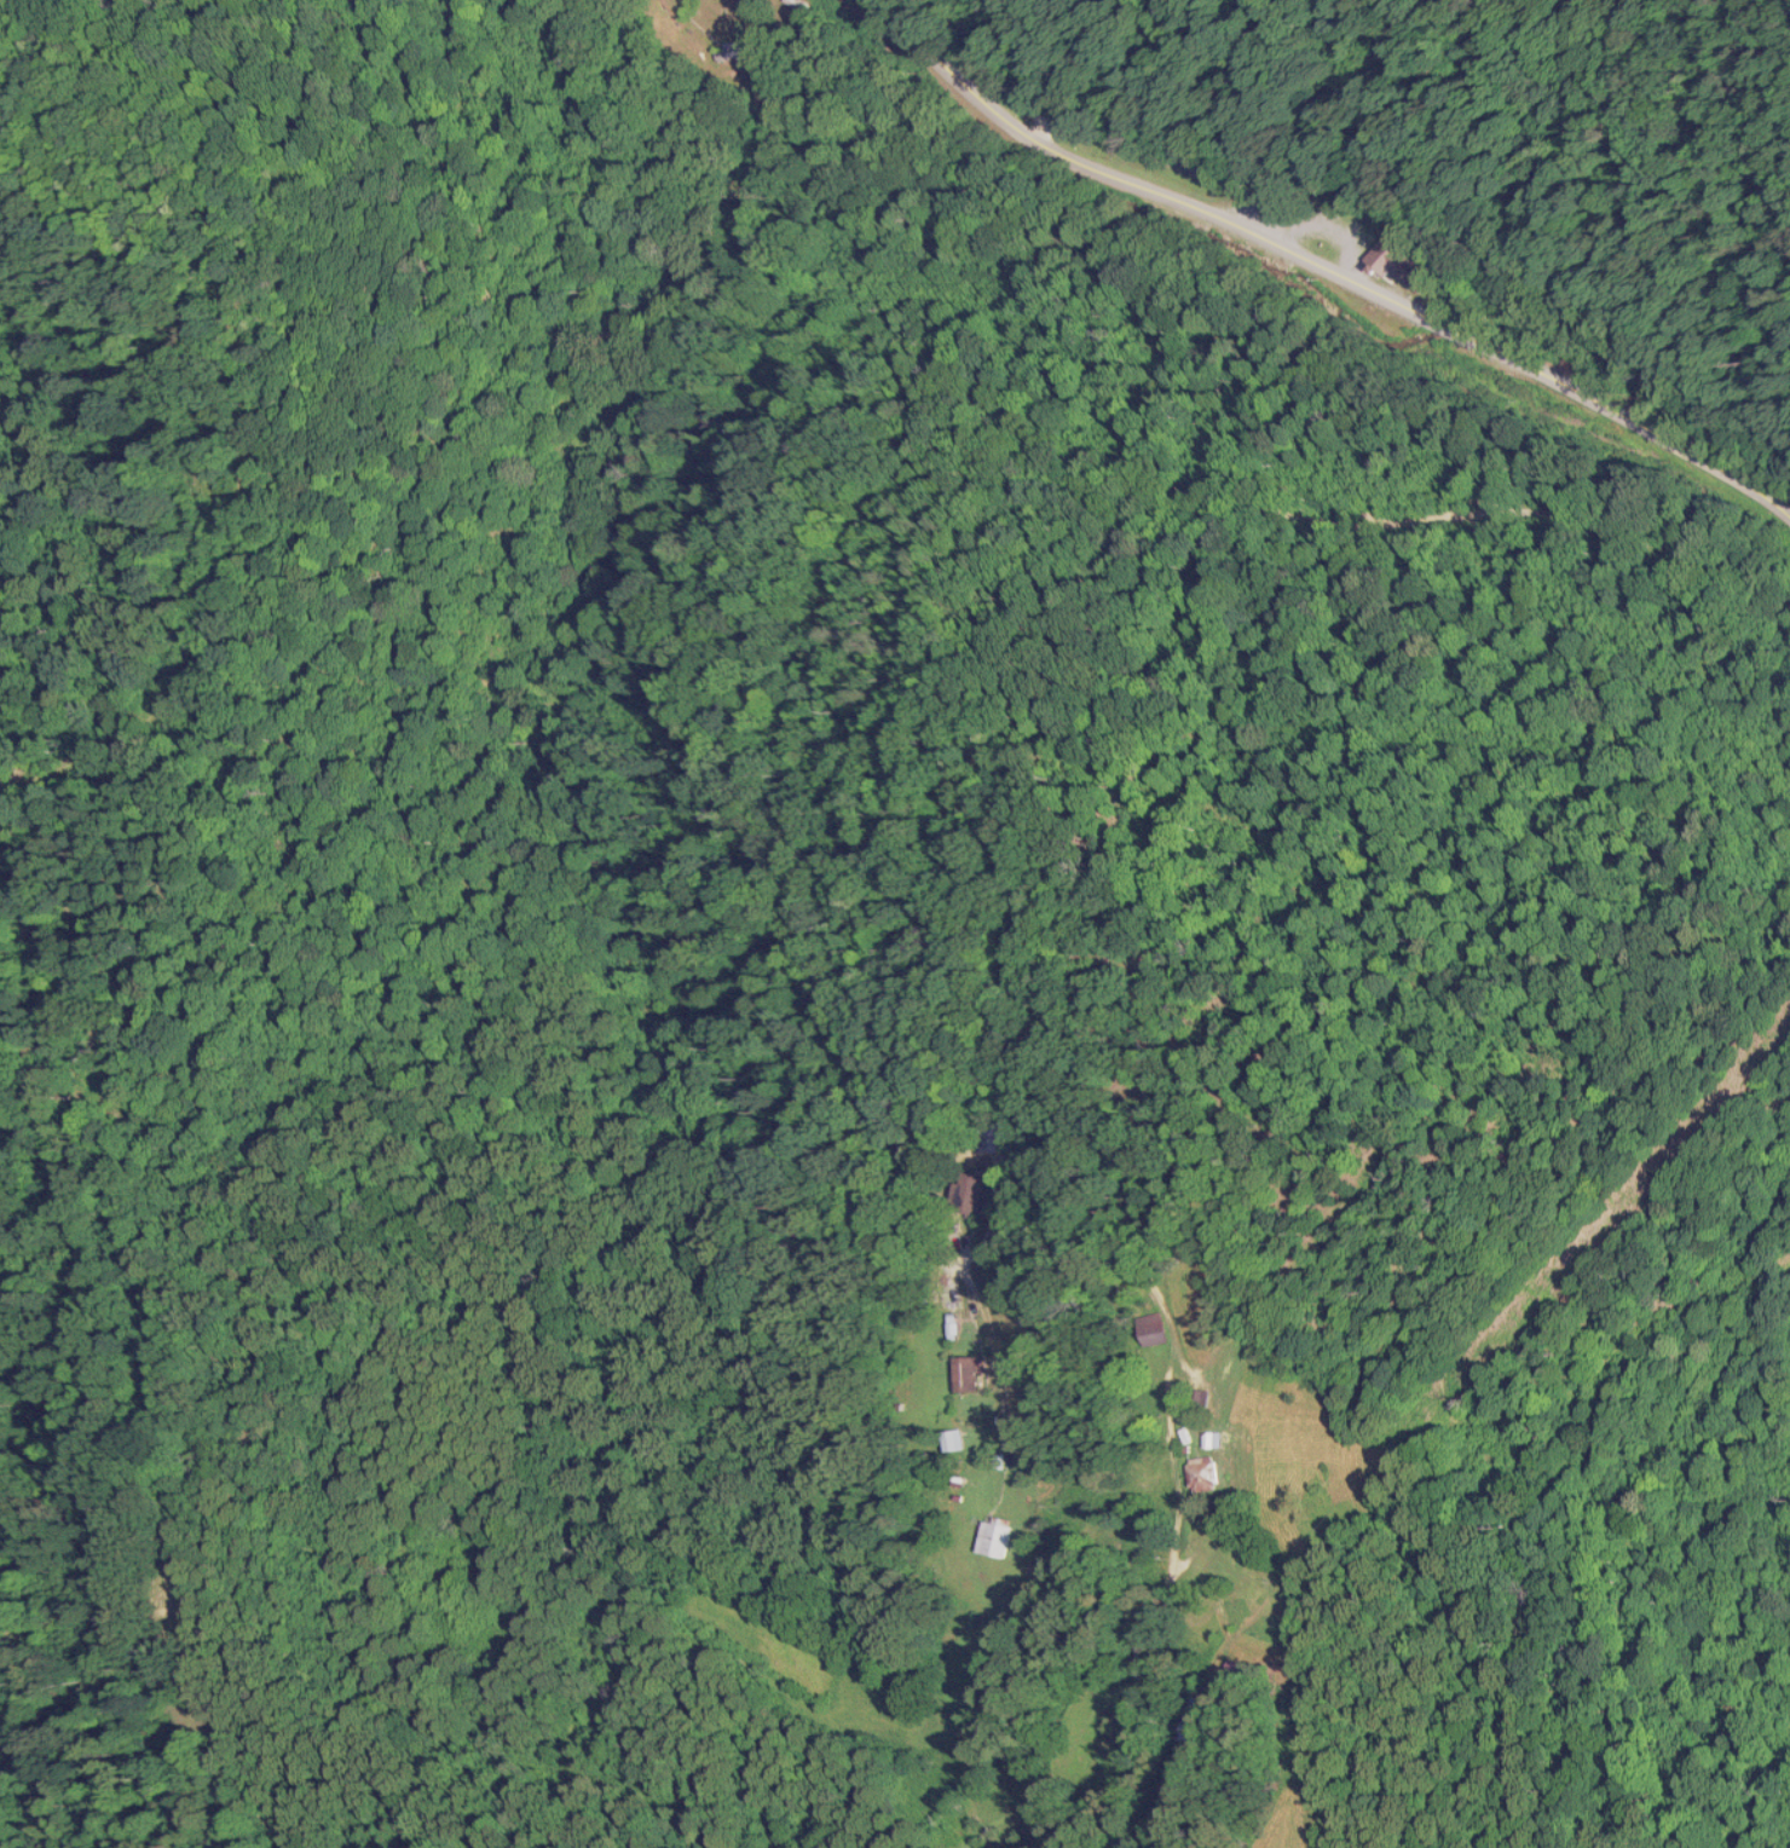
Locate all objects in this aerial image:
road: (1003, 65)
road: (1134, 179)
road: (1451, 323)
road: (1638, 411)
road: (1699, 559)
road: (868, 1131)
building: (971, 1191)
building: (1144, 1329)
building: (963, 1371)
building: (1194, 1399)
building: (952, 1439)
building: (1205, 1439)
building: (1199, 1473)
building: (992, 1537)

